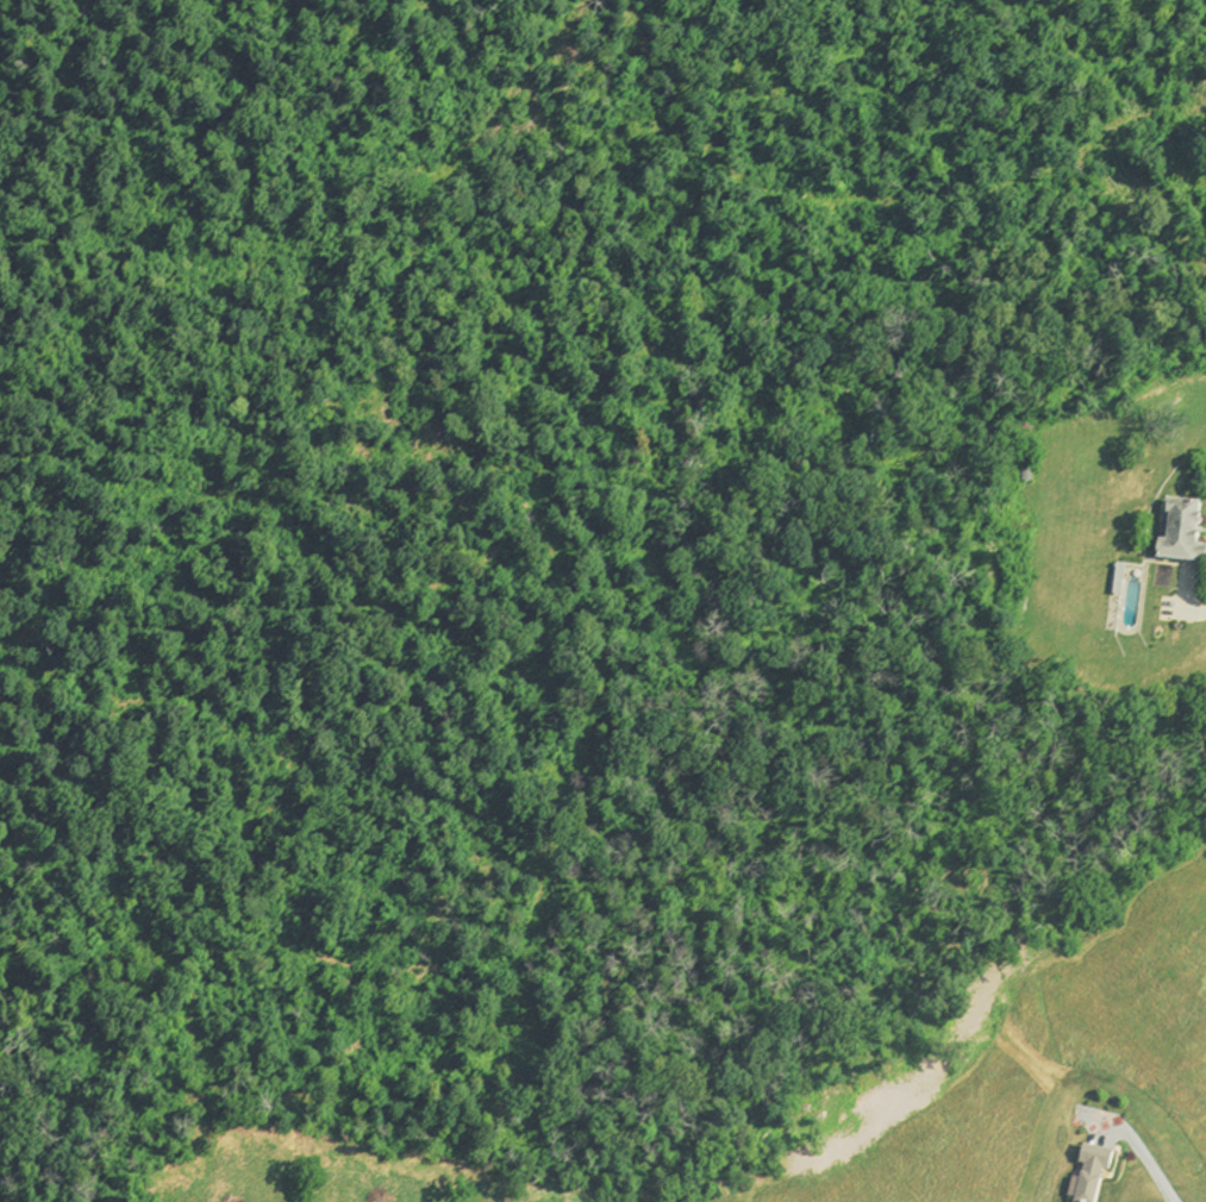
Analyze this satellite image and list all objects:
building: (1175, 534)
road: (1205, 613)
road: (1149, 1162)

